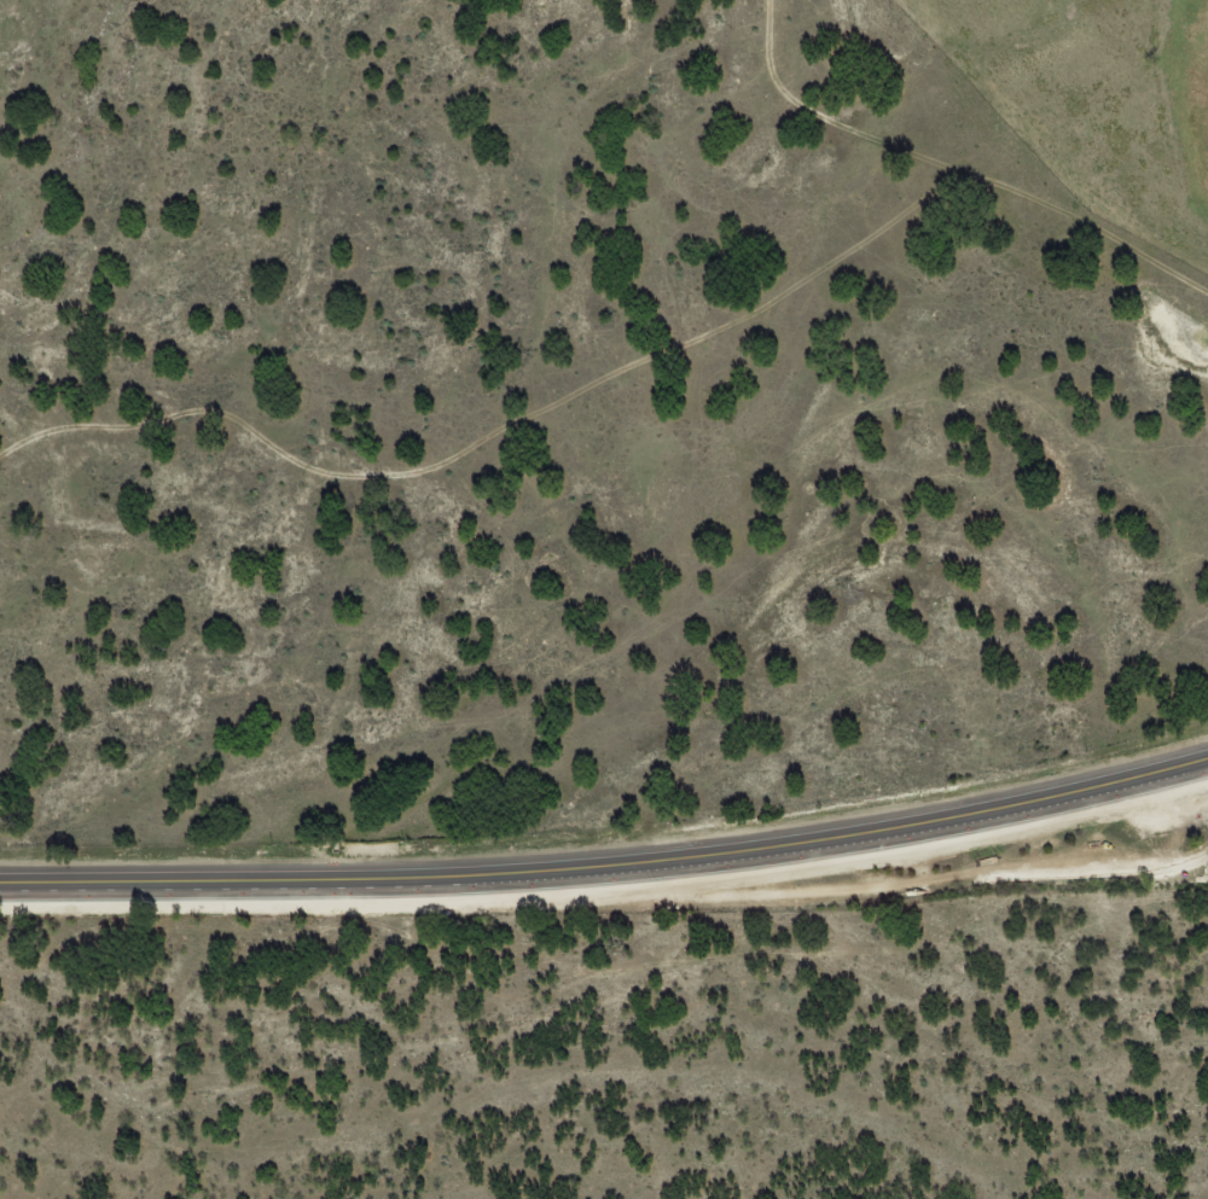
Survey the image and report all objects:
road: (608, 860)

